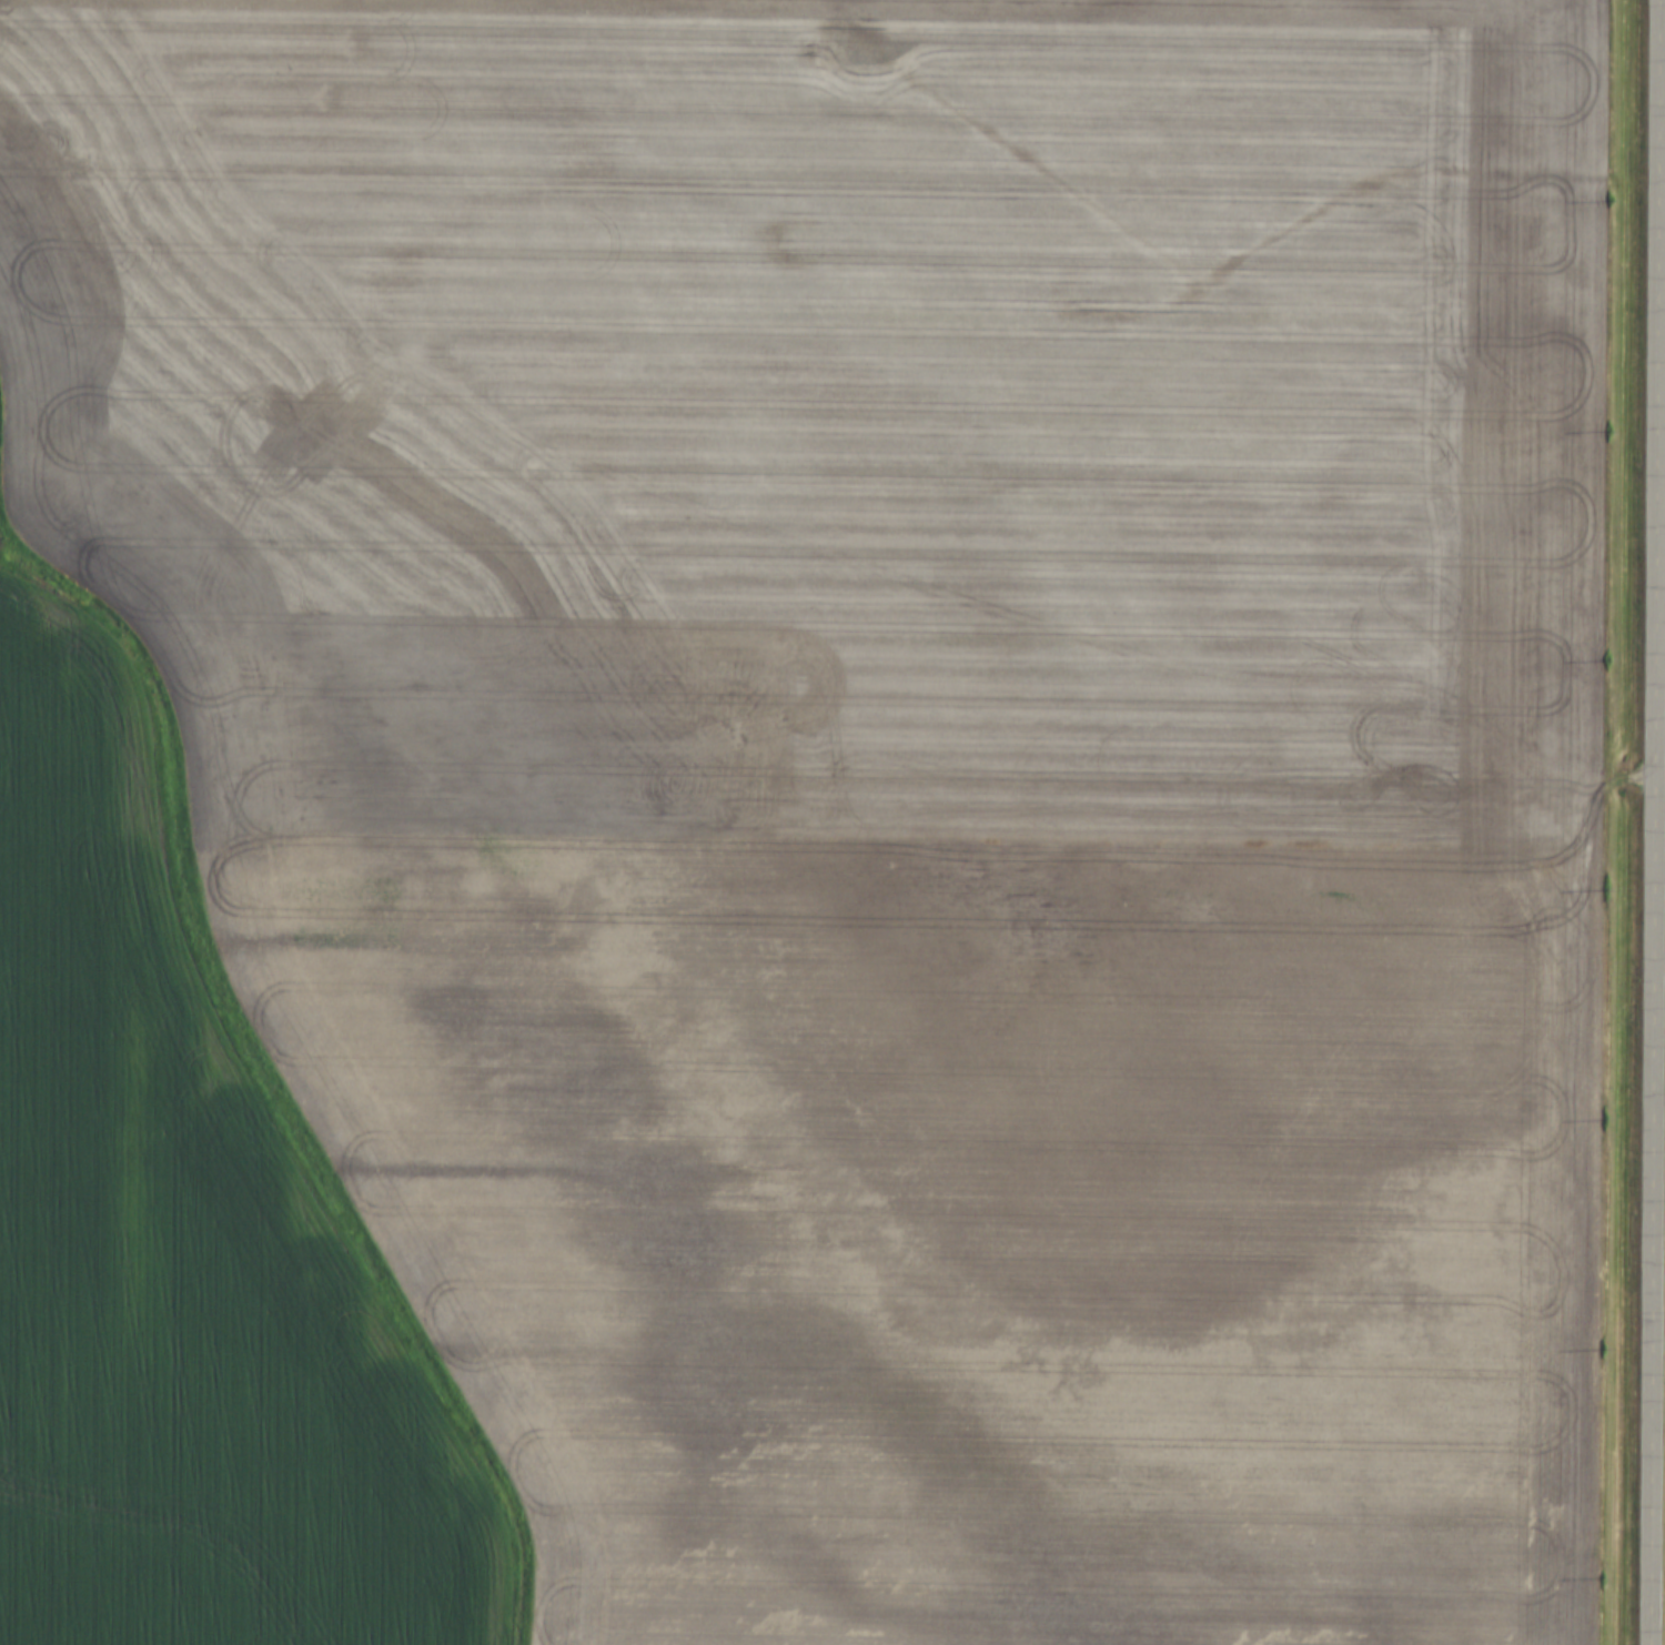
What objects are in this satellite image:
road: (1661, 859)

